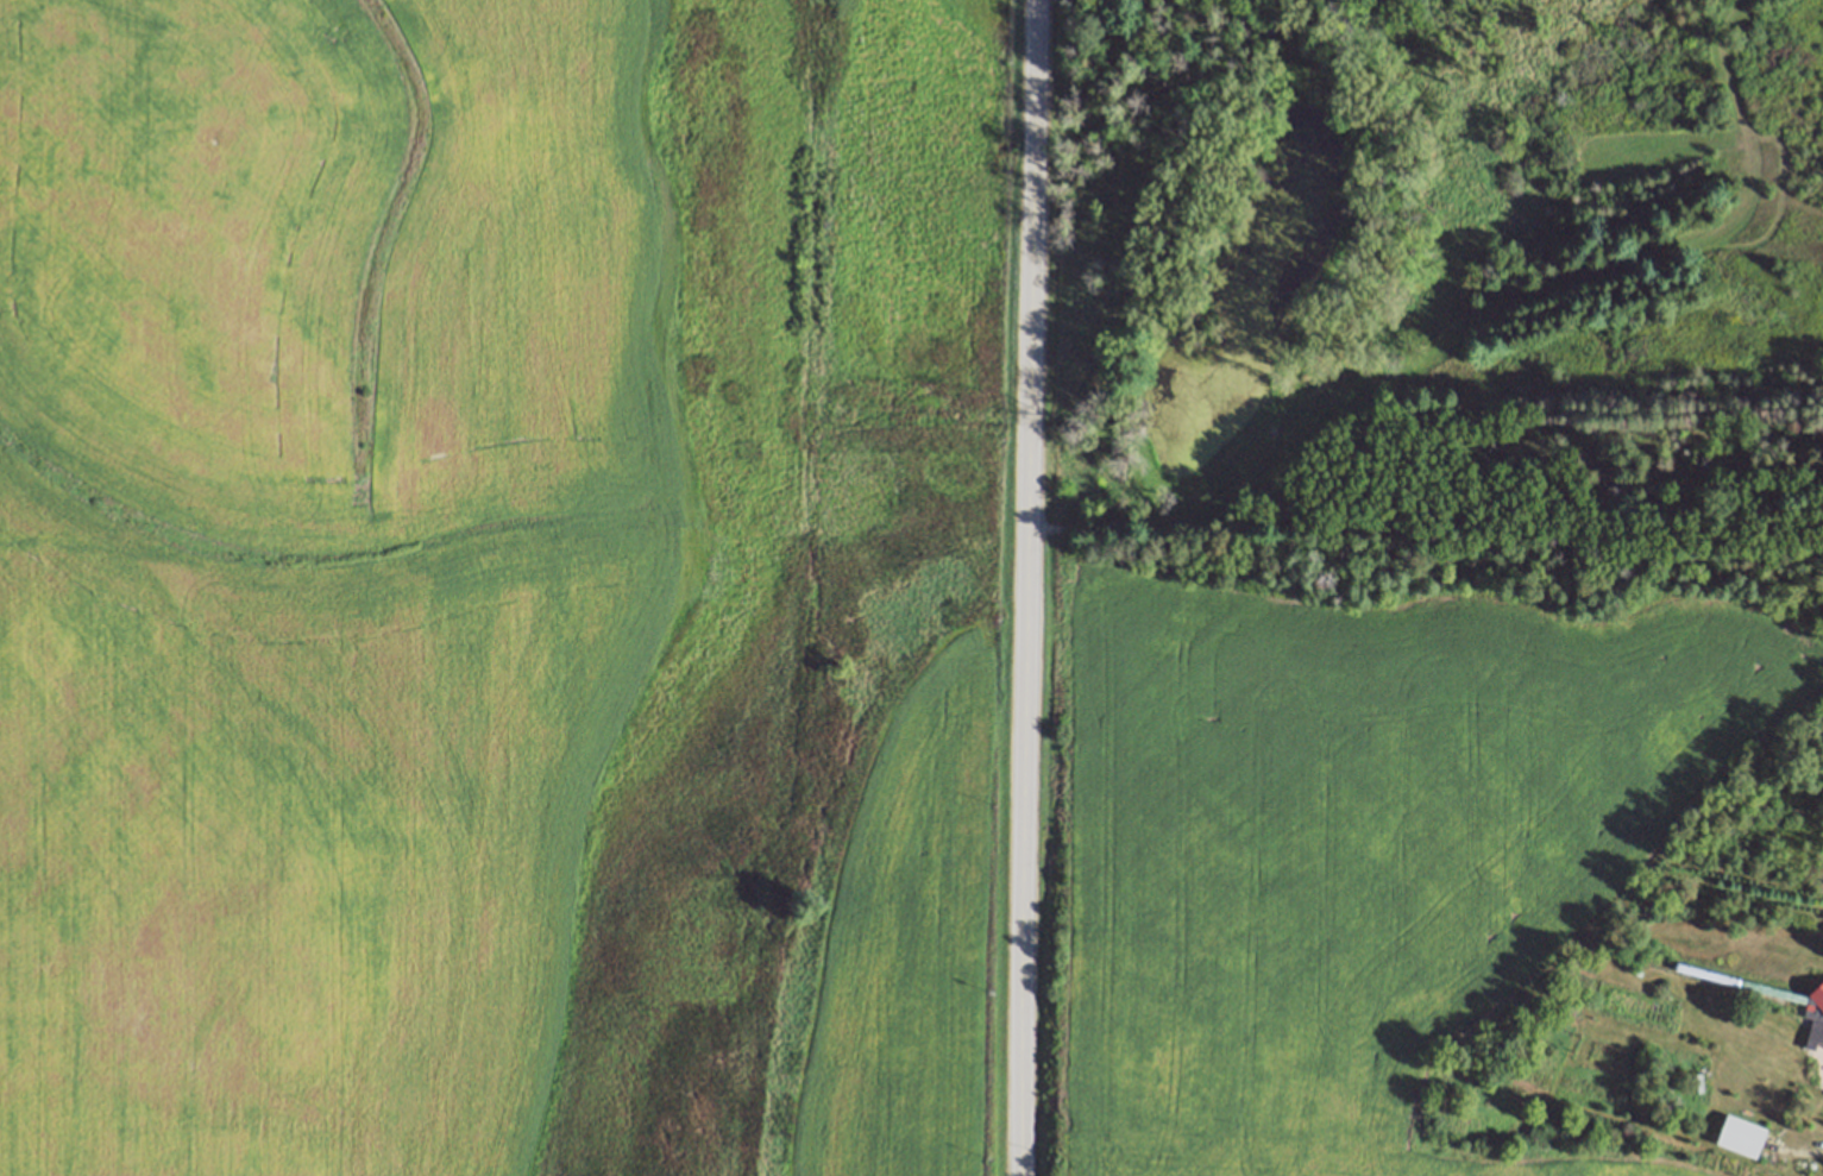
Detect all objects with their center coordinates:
road: (1024, 587)
building: (1816, 1018)
building: (1697, 1082)
building: (1740, 1137)

